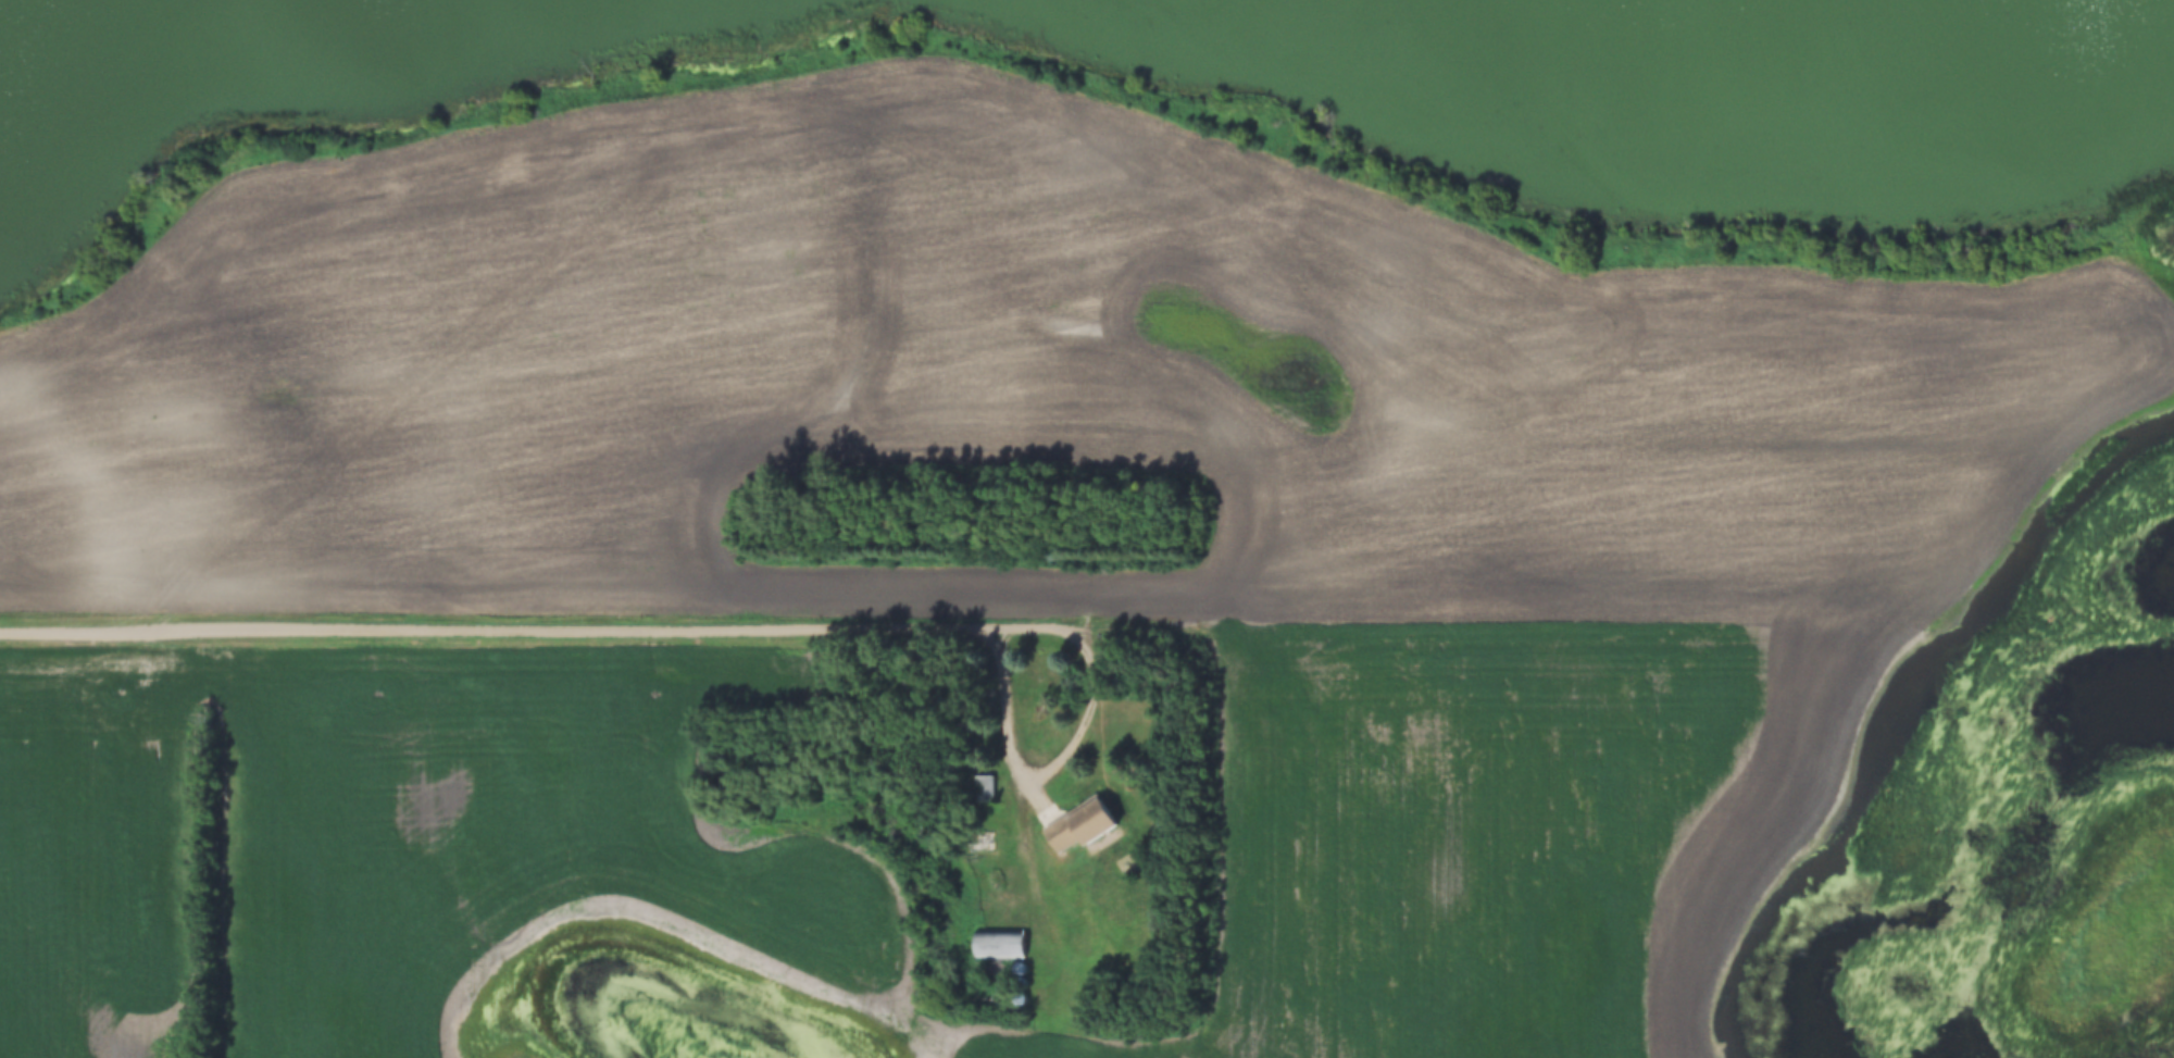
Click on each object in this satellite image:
road: (541, 630)
road: (1498, 630)
road: (1034, 770)
building: (983, 779)
building: (1082, 818)
building: (999, 934)
building: (1020, 959)
silo: (1020, 959)
building: (1020, 975)
silo: (1020, 975)
building: (1020, 992)
silo: (1020, 992)

